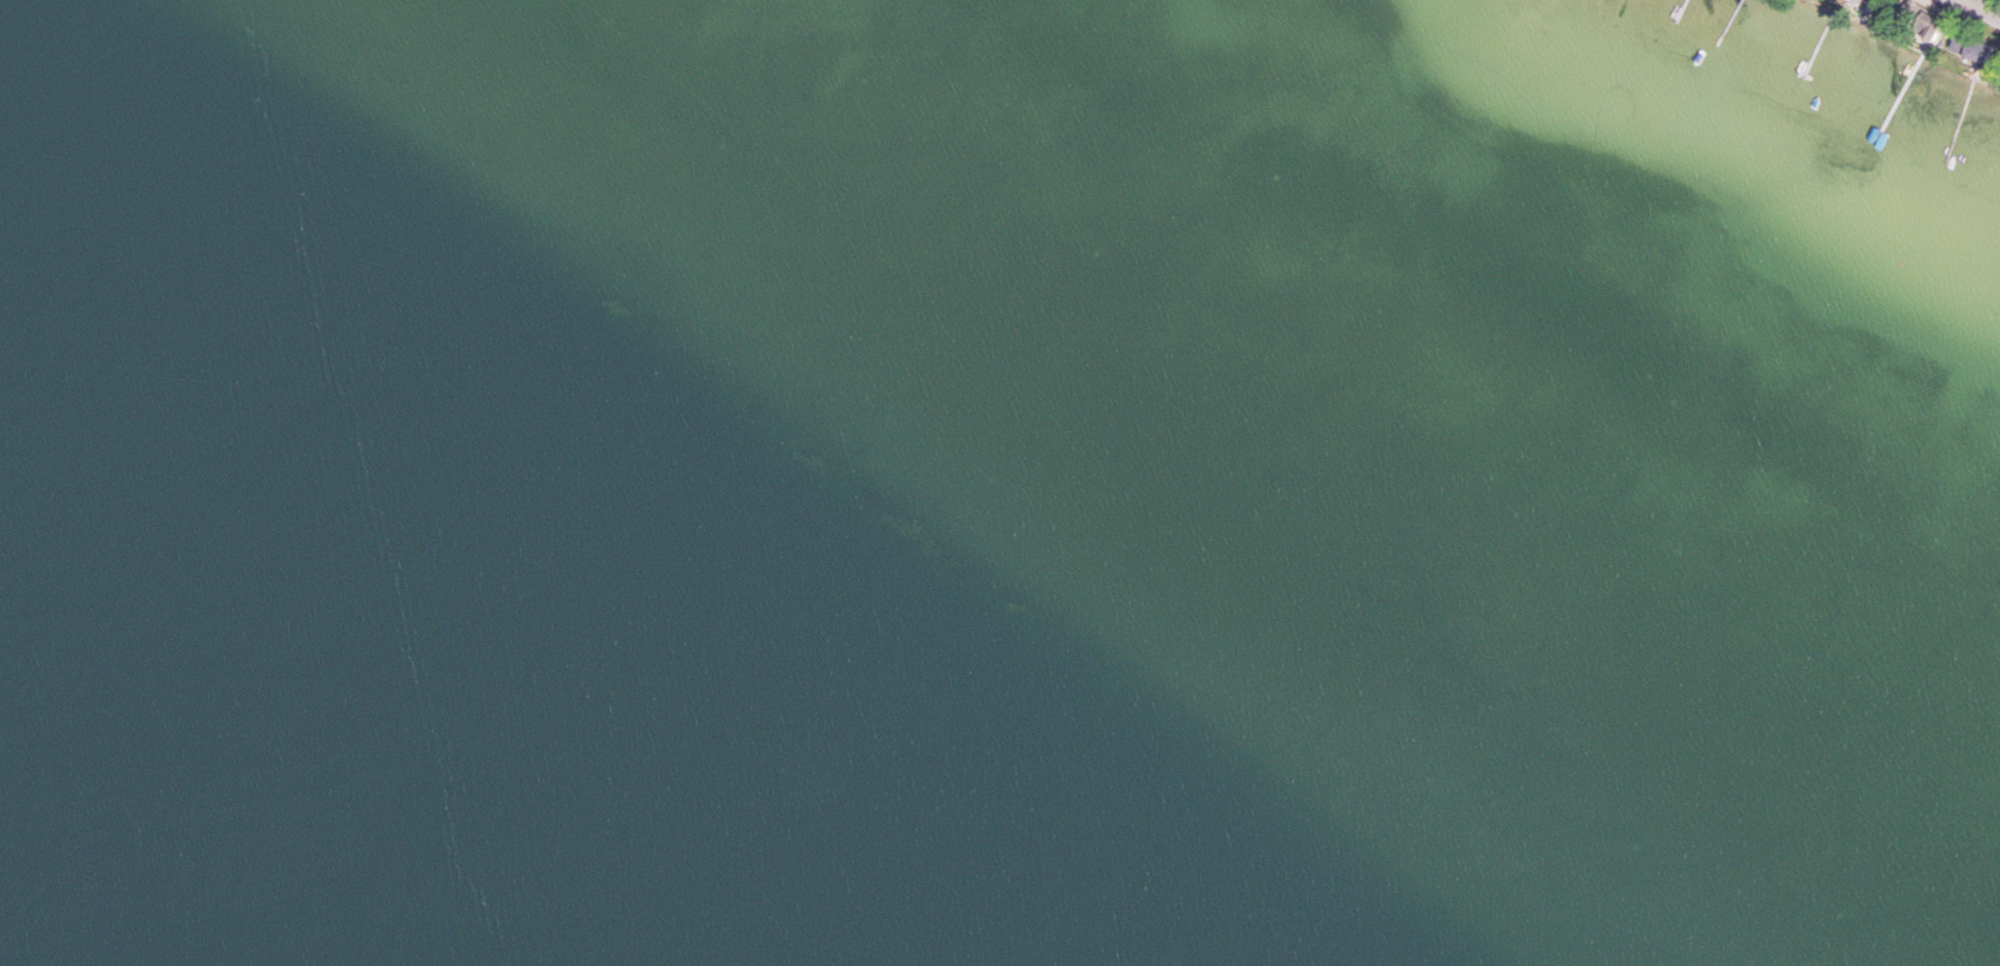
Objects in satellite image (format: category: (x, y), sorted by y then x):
building: (1854, 1)
road: (1981, 8)

